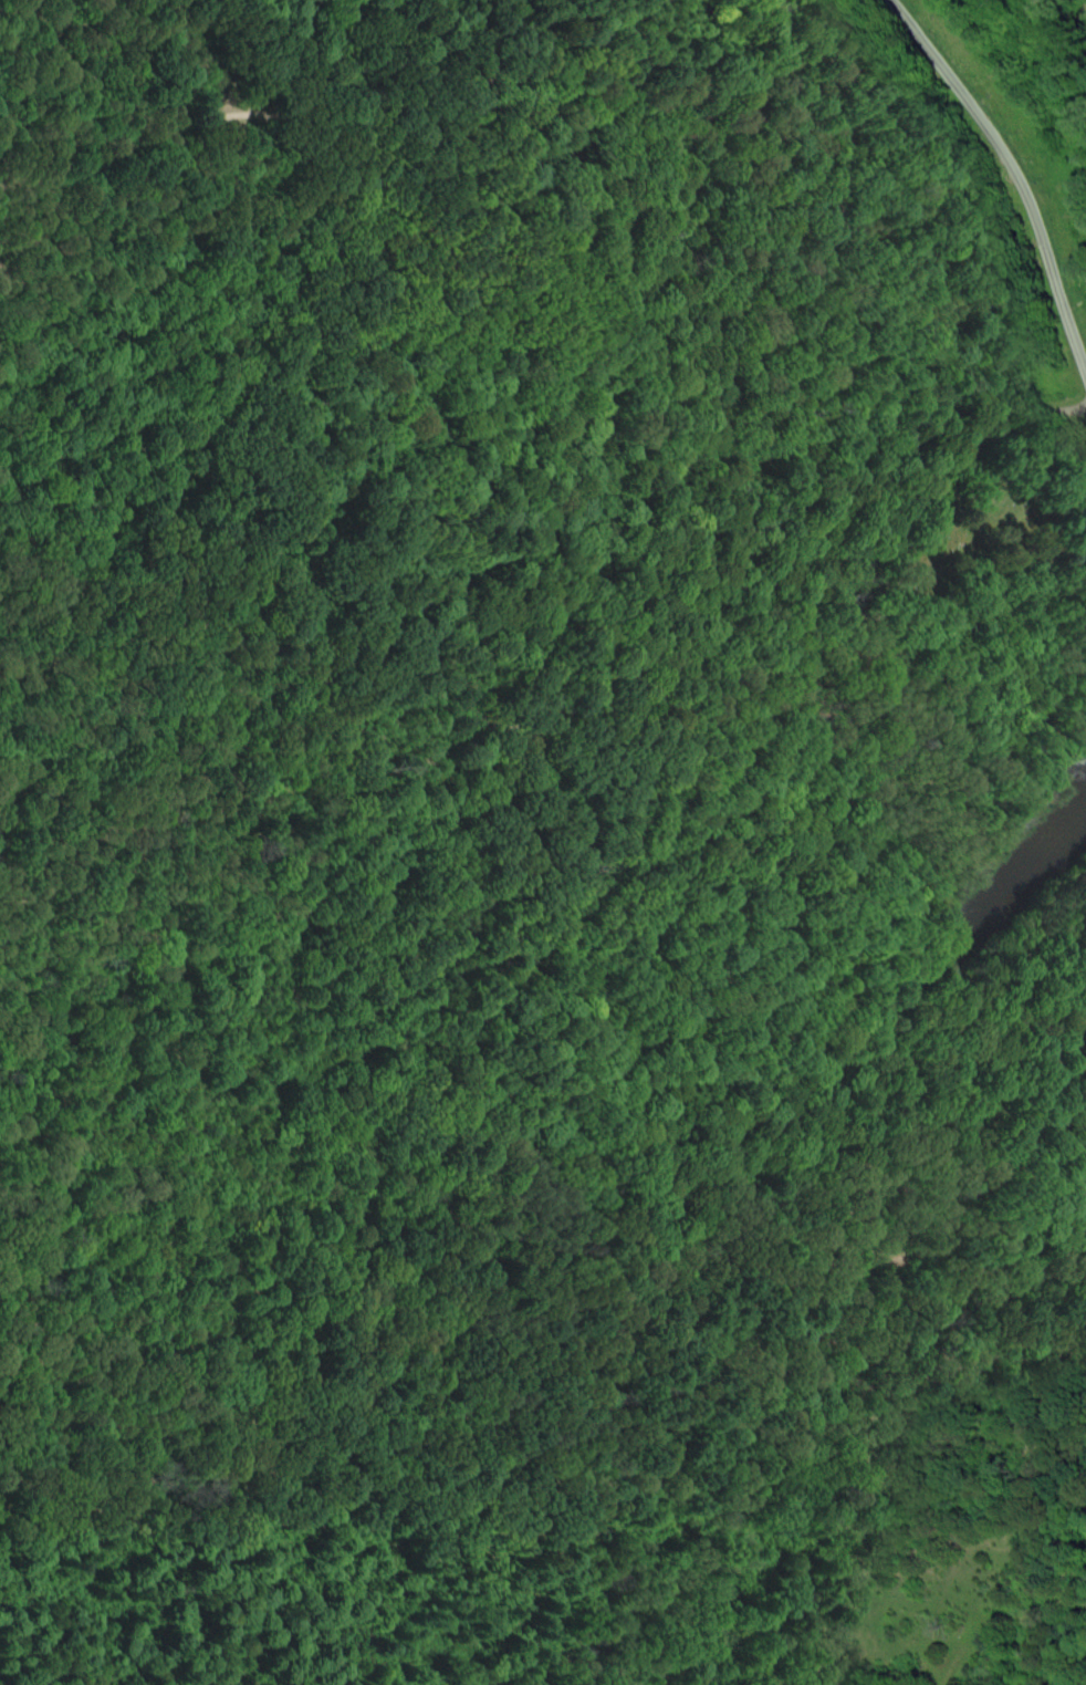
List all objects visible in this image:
road: (1014, 164)

